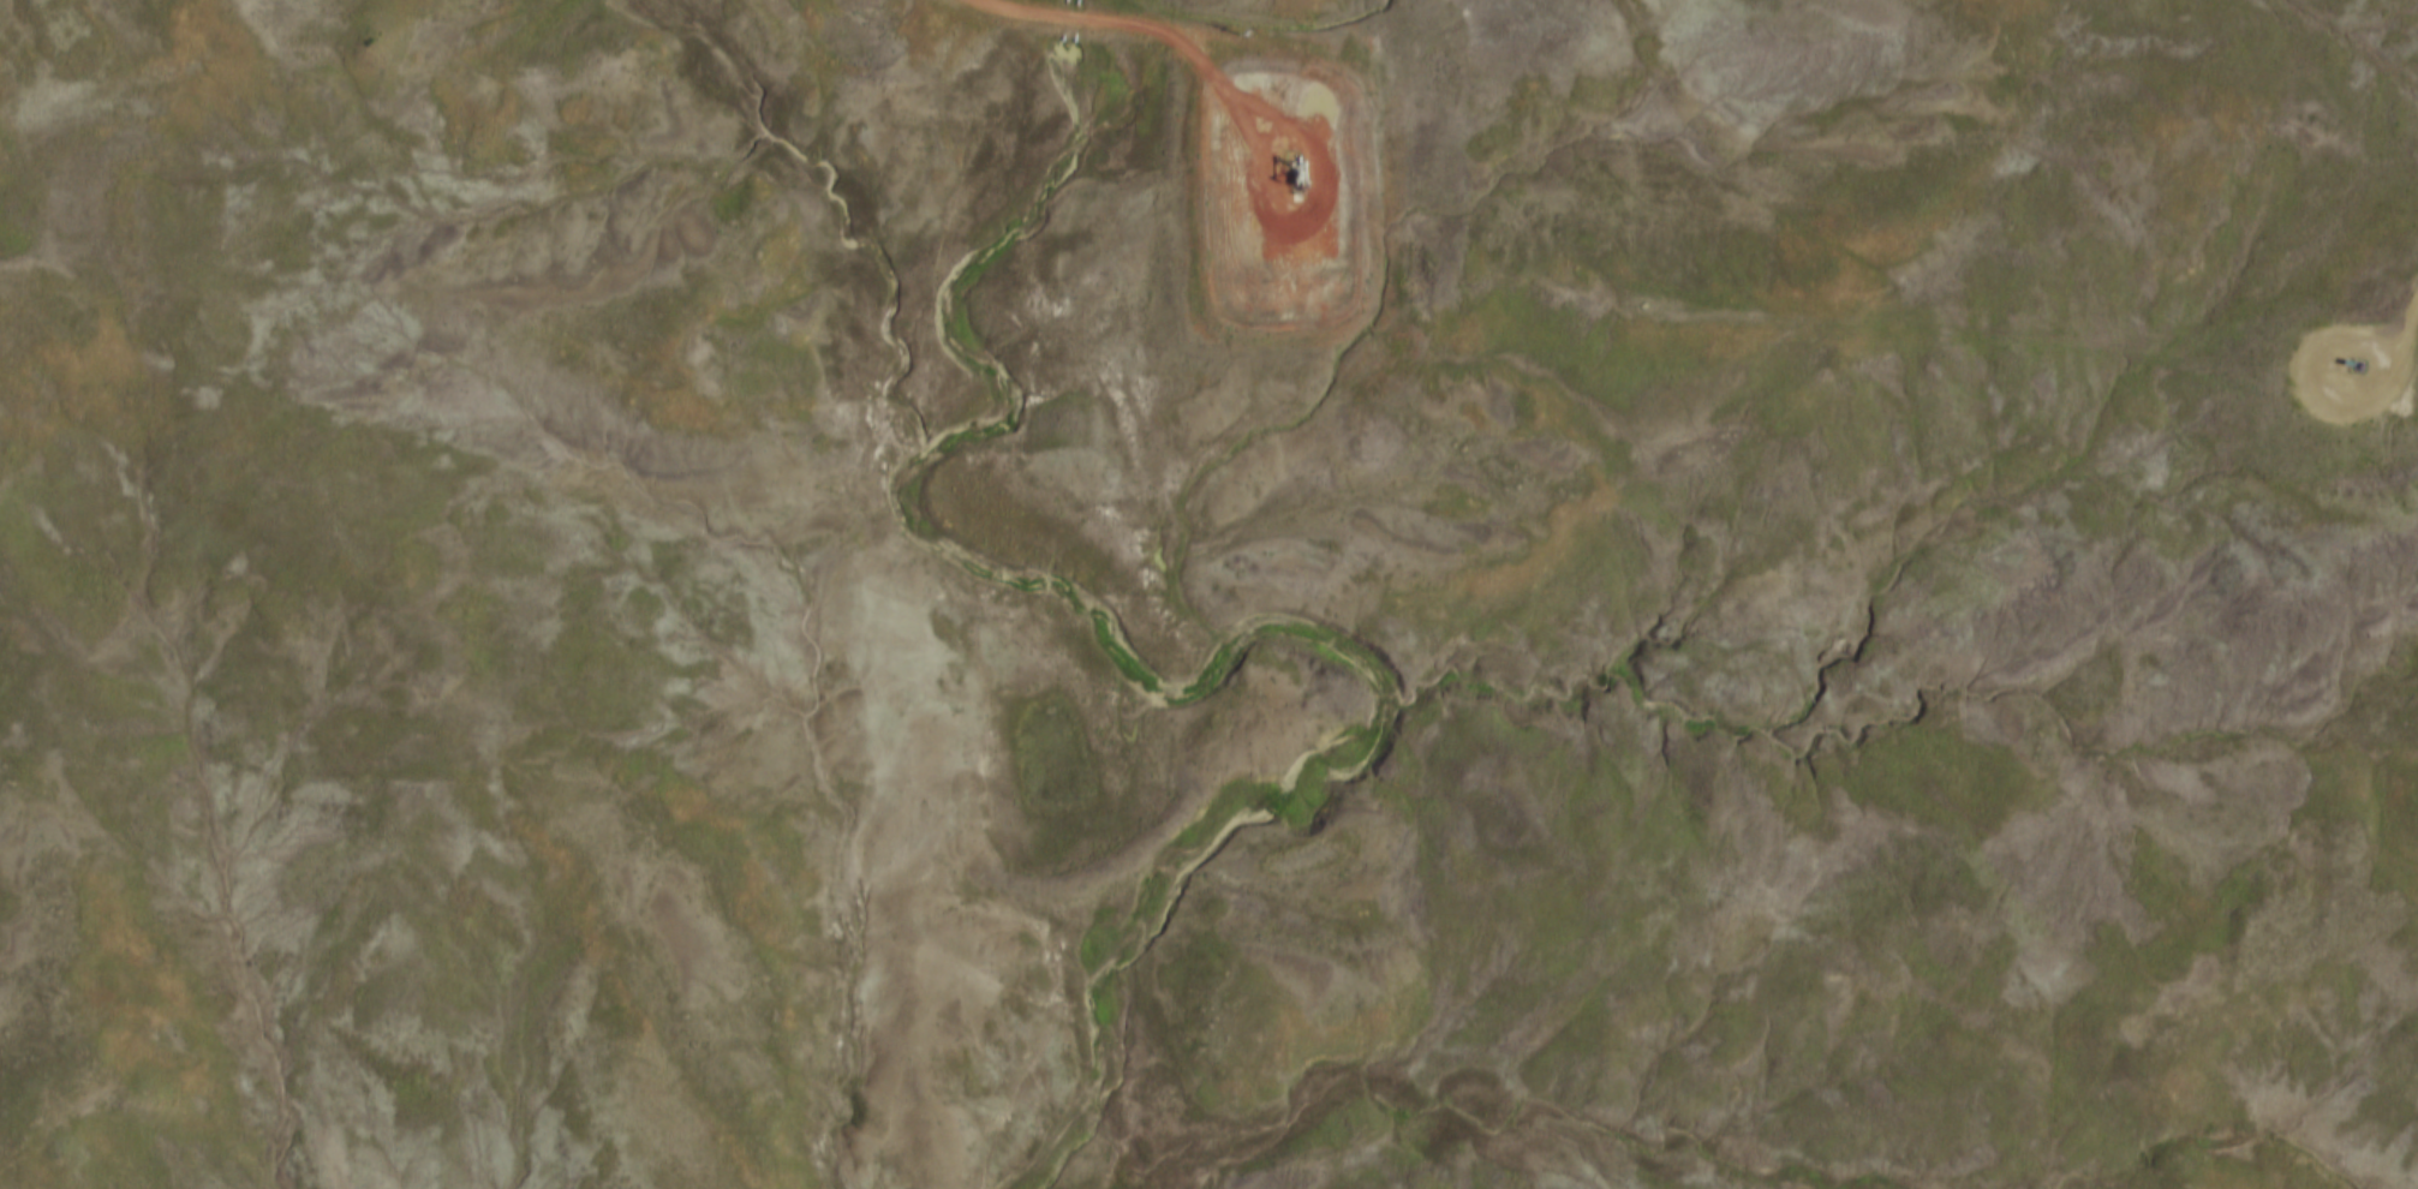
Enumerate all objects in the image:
road: (1152, 34)
petroleum well: (1292, 173)
road: (2417, 315)
building: (2344, 363)
road: (2301, 399)

